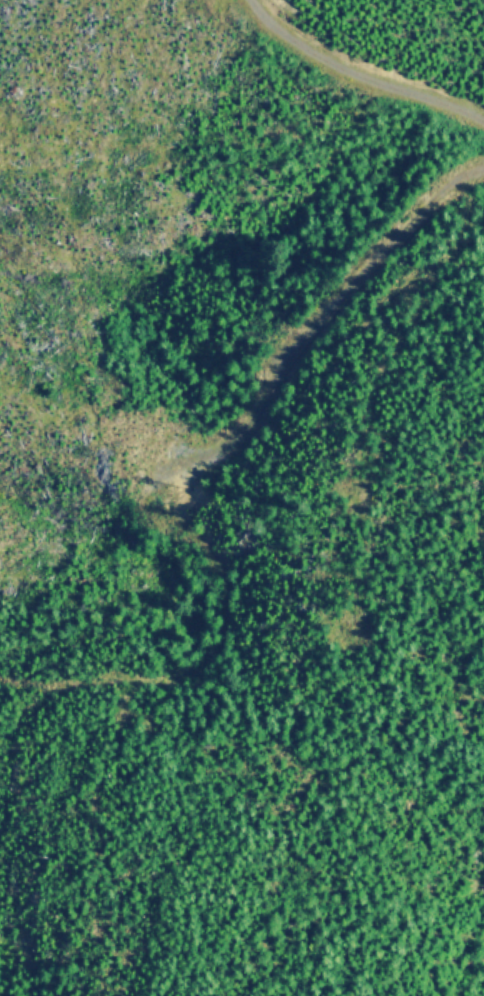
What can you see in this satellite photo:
road: (360, 67)
road: (311, 303)

